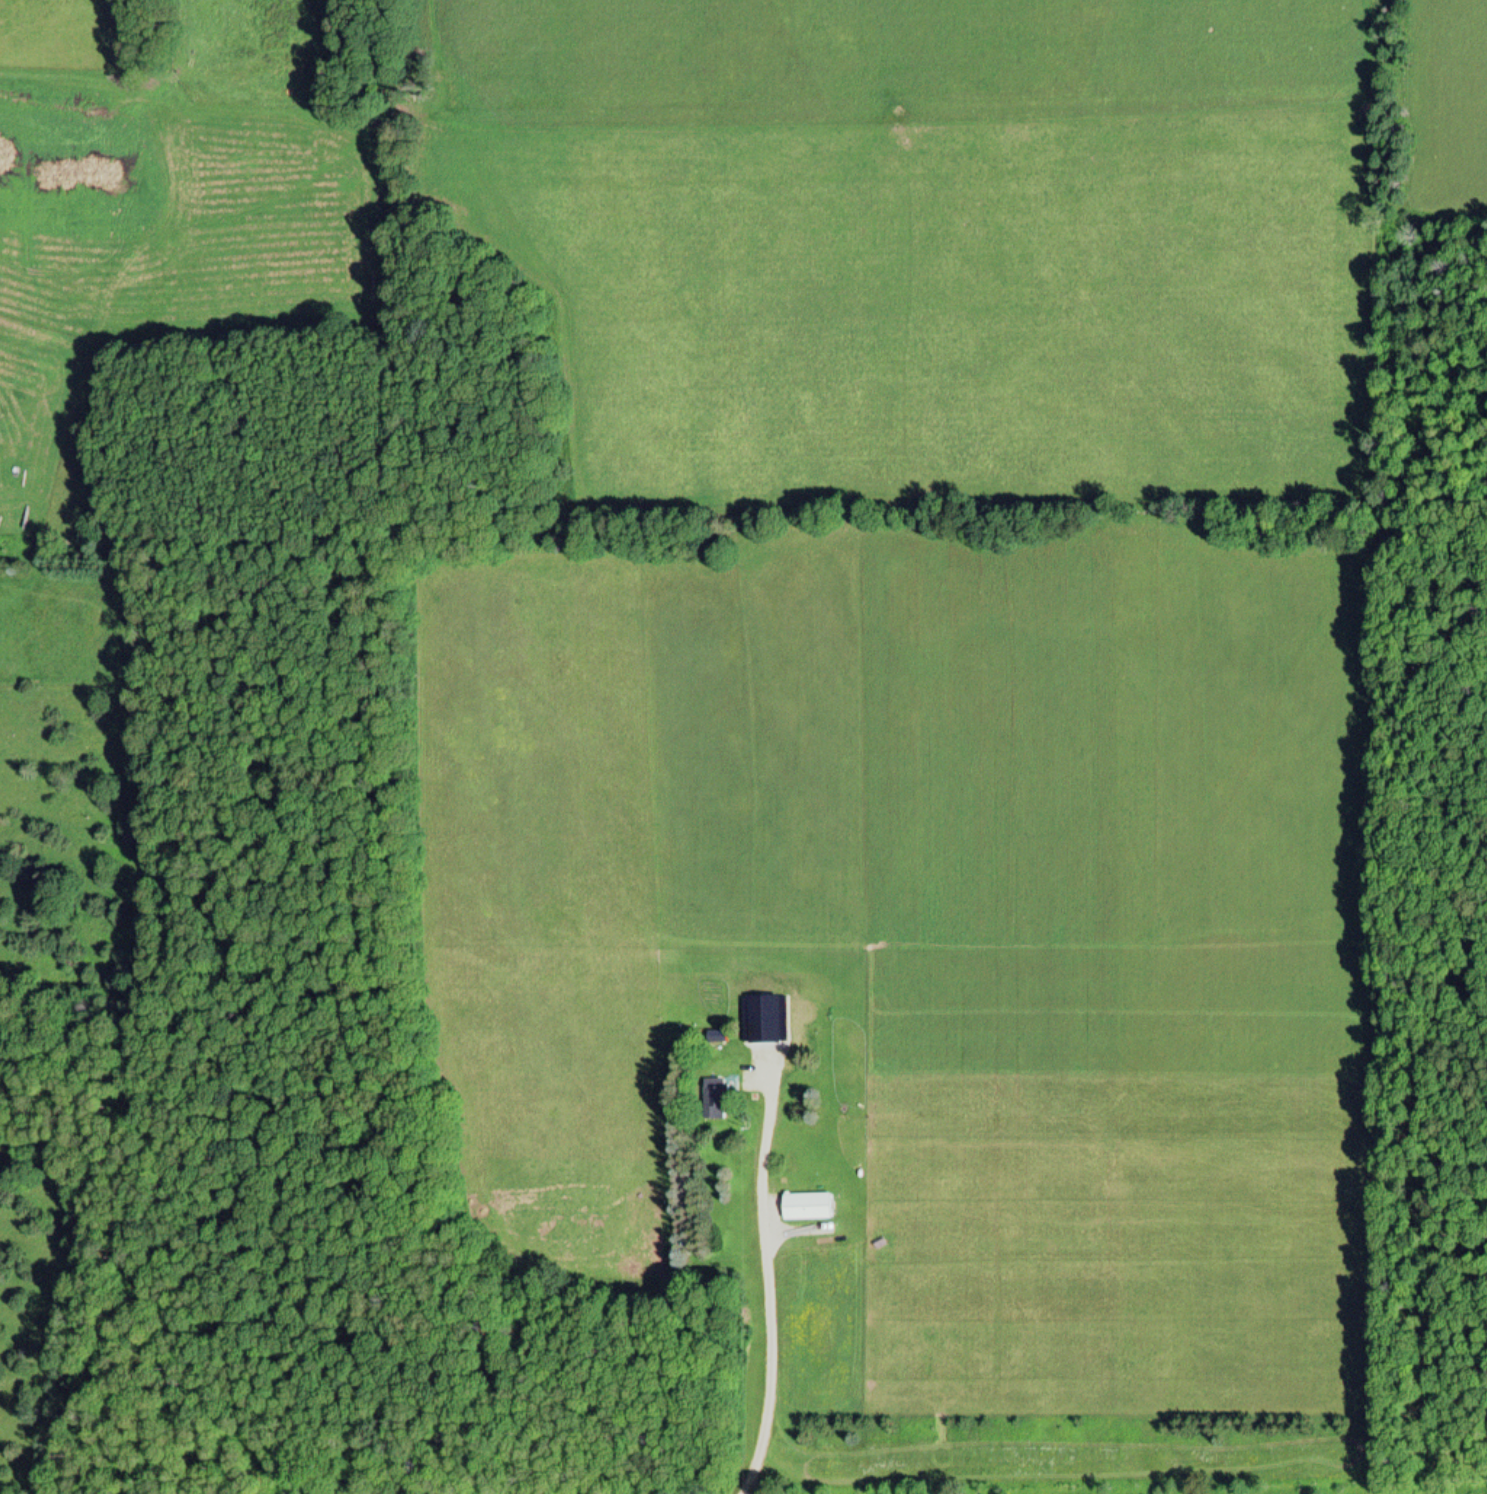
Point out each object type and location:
building: (768, 1029)
building: (716, 1099)
building: (812, 1207)
road: (781, 1284)

